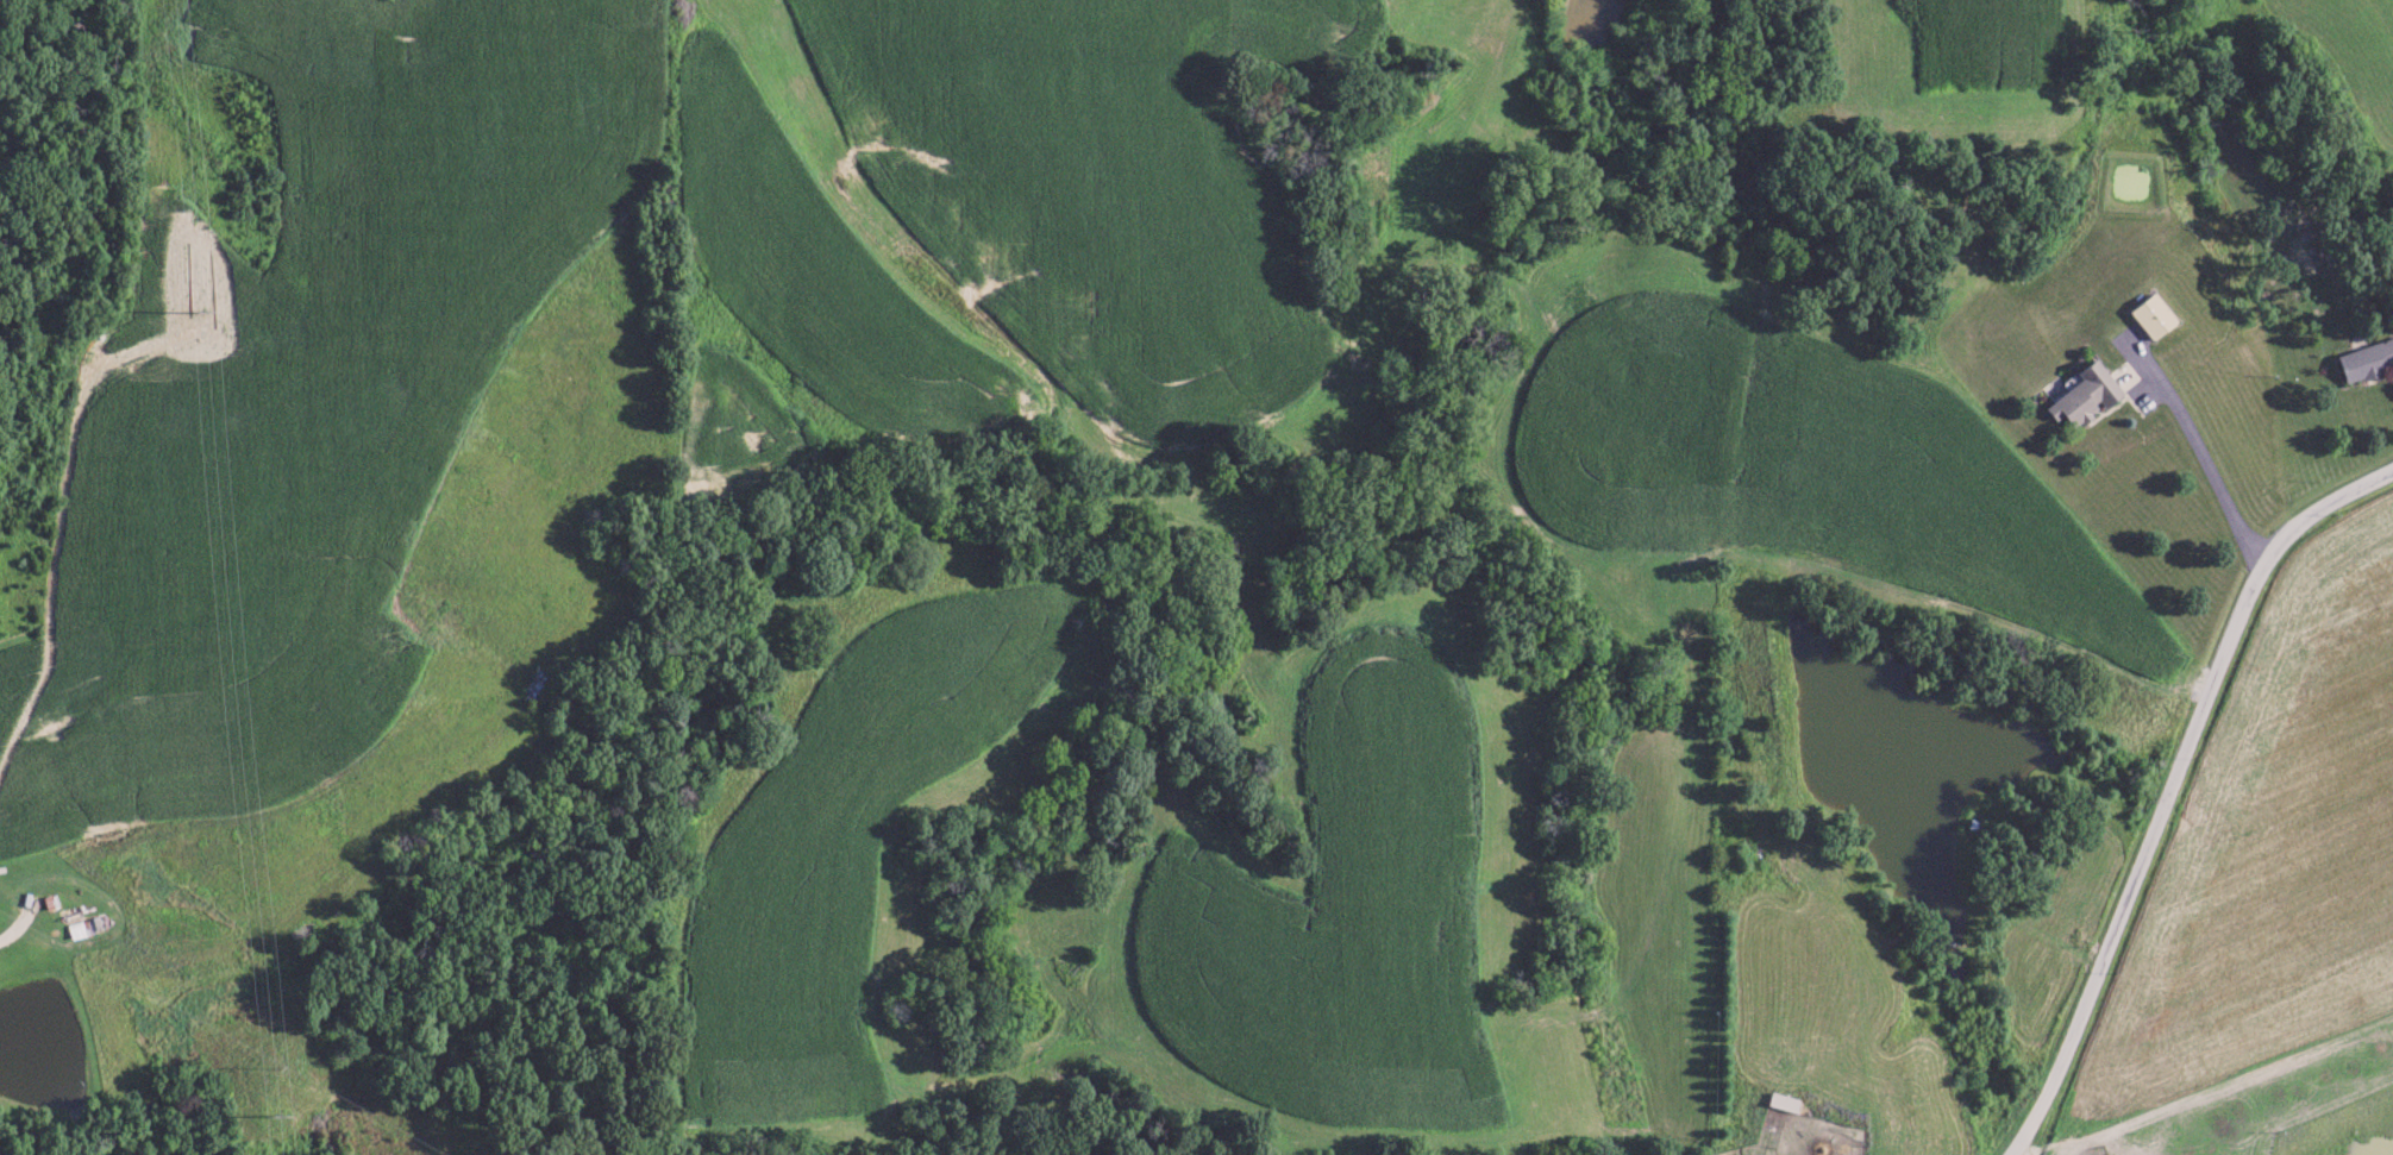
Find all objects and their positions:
building: (2148, 315)
building: (2366, 358)
building: (2124, 374)
building: (2081, 394)
road: (2203, 452)
road: (2174, 785)

